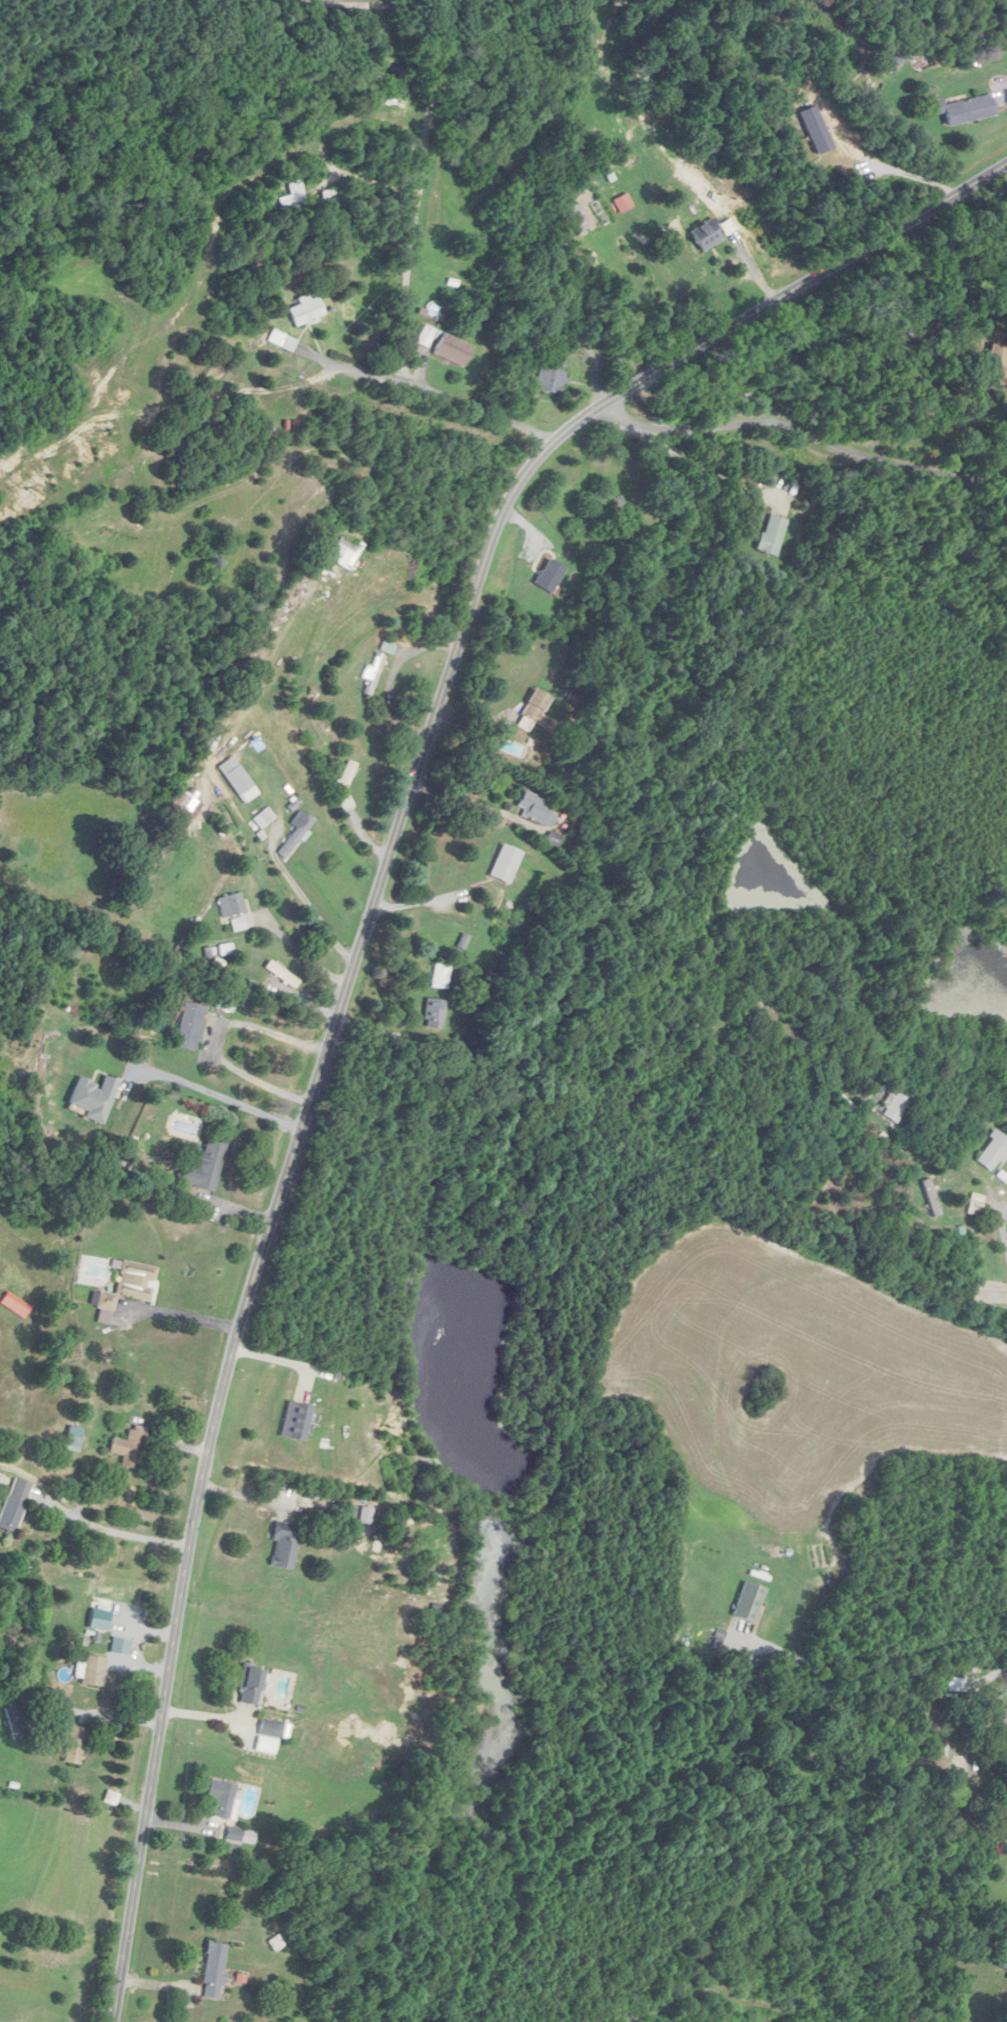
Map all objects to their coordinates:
building: (897, 52)
building: (966, 109)
road: (424, 142)
road: (910, 176)
building: (619, 195)
building: (294, 202)
building: (586, 227)
building: (706, 235)
road: (773, 305)
building: (306, 311)
building: (426, 336)
building: (283, 341)
building: (453, 350)
building: (997, 365)
building: (552, 376)
road: (486, 414)
road: (815, 430)
road: (687, 459)
building: (772, 535)
building: (344, 553)
building: (550, 576)
building: (373, 675)
building: (533, 711)
building: (210, 744)
building: (347, 777)
road: (472, 802)
building: (188, 804)
building: (534, 809)
building: (296, 836)
building: (505, 864)
road: (304, 897)
building: (231, 905)
road: (299, 947)
building: (282, 975)
building: (441, 977)
building: (434, 1014)
building: (190, 1026)
road: (204, 1040)
building: (93, 1097)
road: (214, 1101)
building: (895, 1104)
building: (849, 1106)
building: (992, 1153)
building: (205, 1168)
building: (931, 1198)
road: (274, 1217)
road: (1002, 1232)
building: (128, 1289)
road: (184, 1314)
building: (295, 1419)
building: (73, 1438)
building: (130, 1449)
building: (15, 1504)
road: (117, 1531)
building: (283, 1544)
building: (749, 1601)
road: (882, 1653)
building: (93, 1670)
building: (956, 1685)
building: (251, 1686)
building: (17, 1721)
building: (270, 1727)
building: (1003, 1731)
building: (75, 1745)
building: (222, 1797)
road: (721, 1892)
building: (277, 1942)
building: (1003, 1959)
building: (213, 1970)

